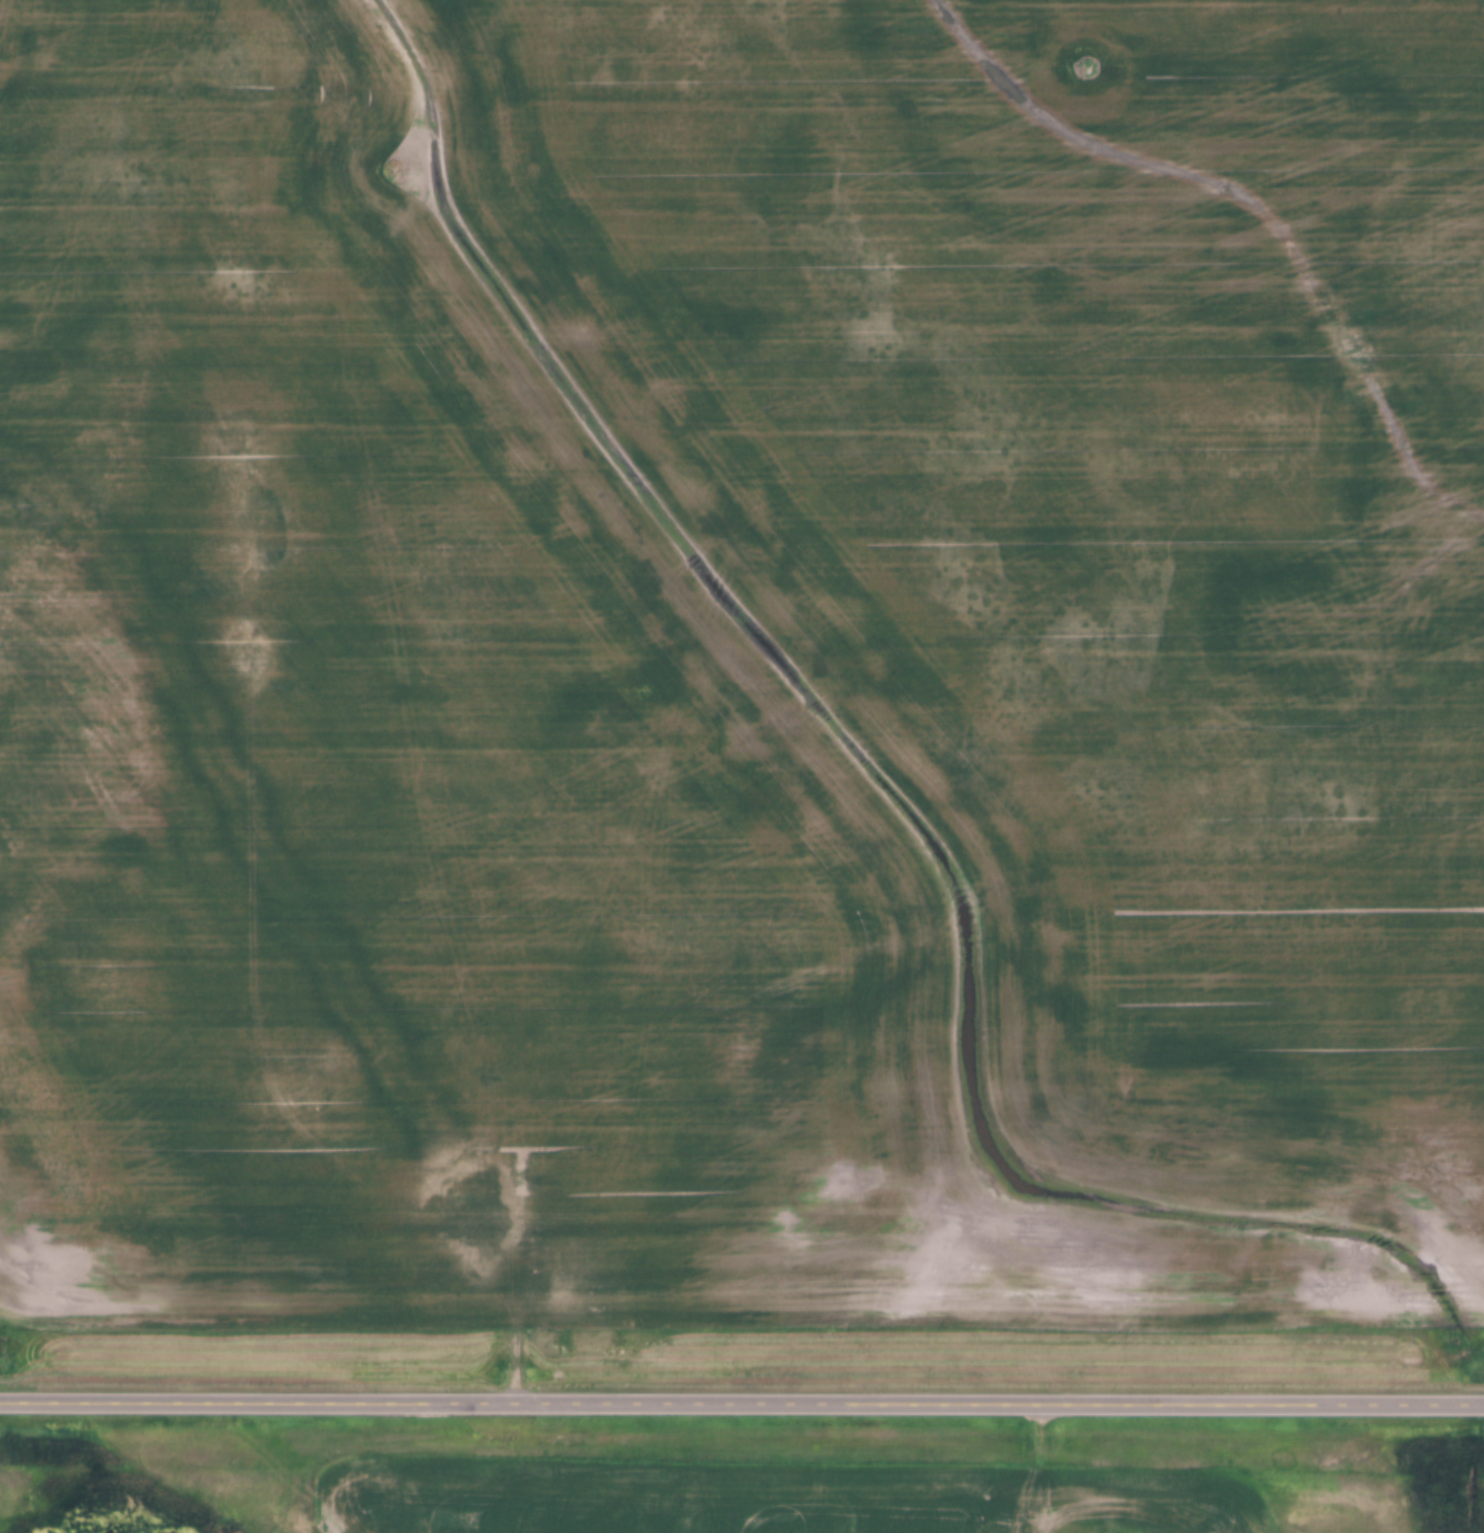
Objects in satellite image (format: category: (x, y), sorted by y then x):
road: (741, 1401)

